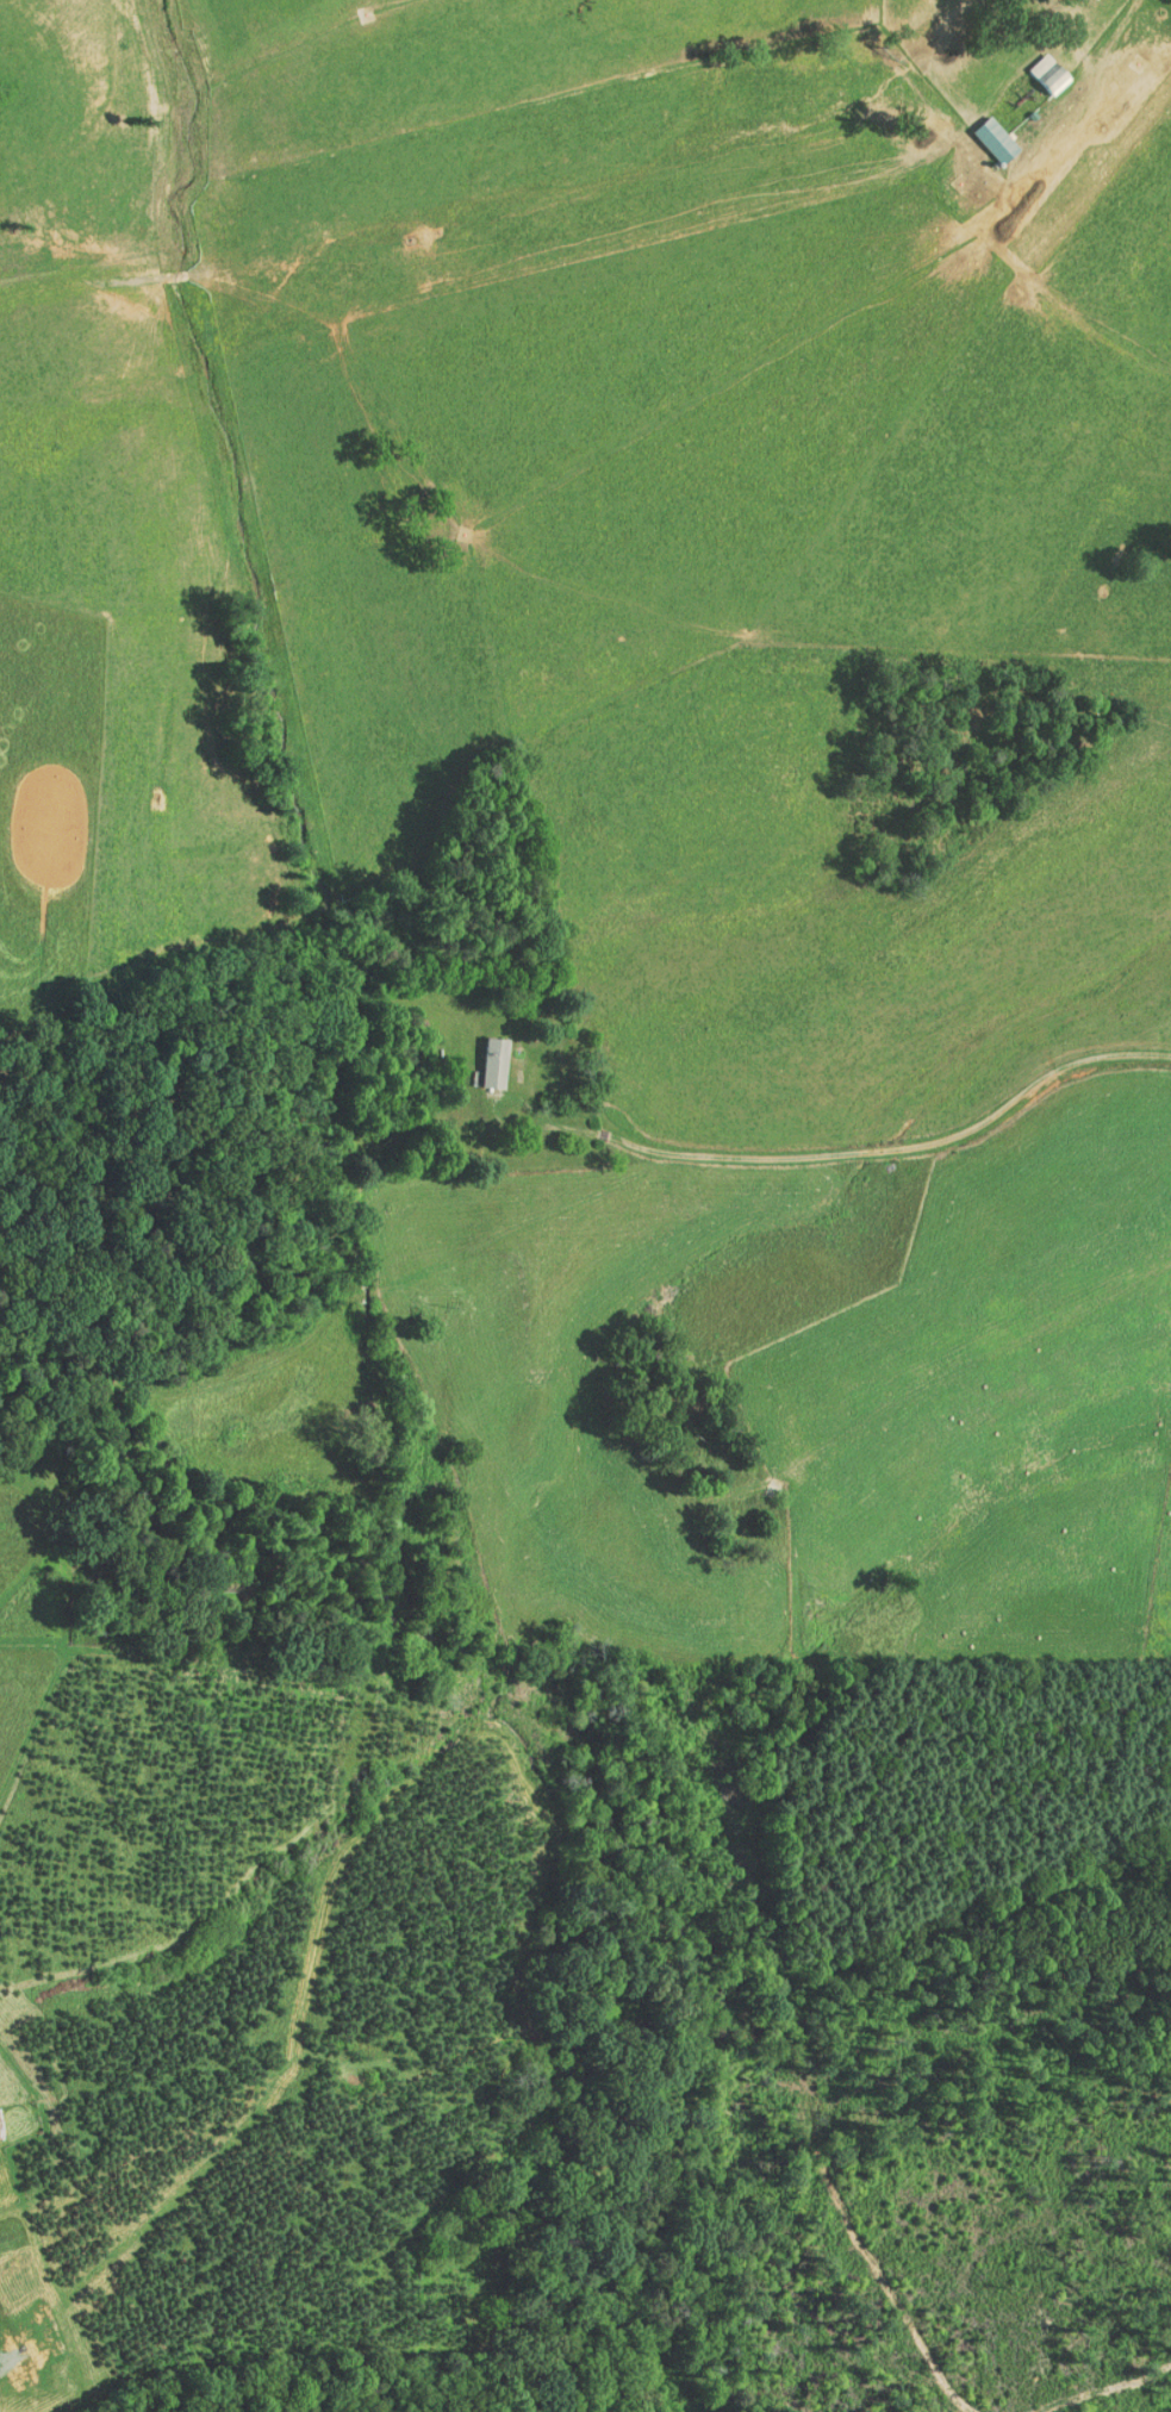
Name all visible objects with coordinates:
road: (1117, 19)
building: (1039, 67)
building: (985, 132)
building: (484, 1054)
road: (835, 1149)

